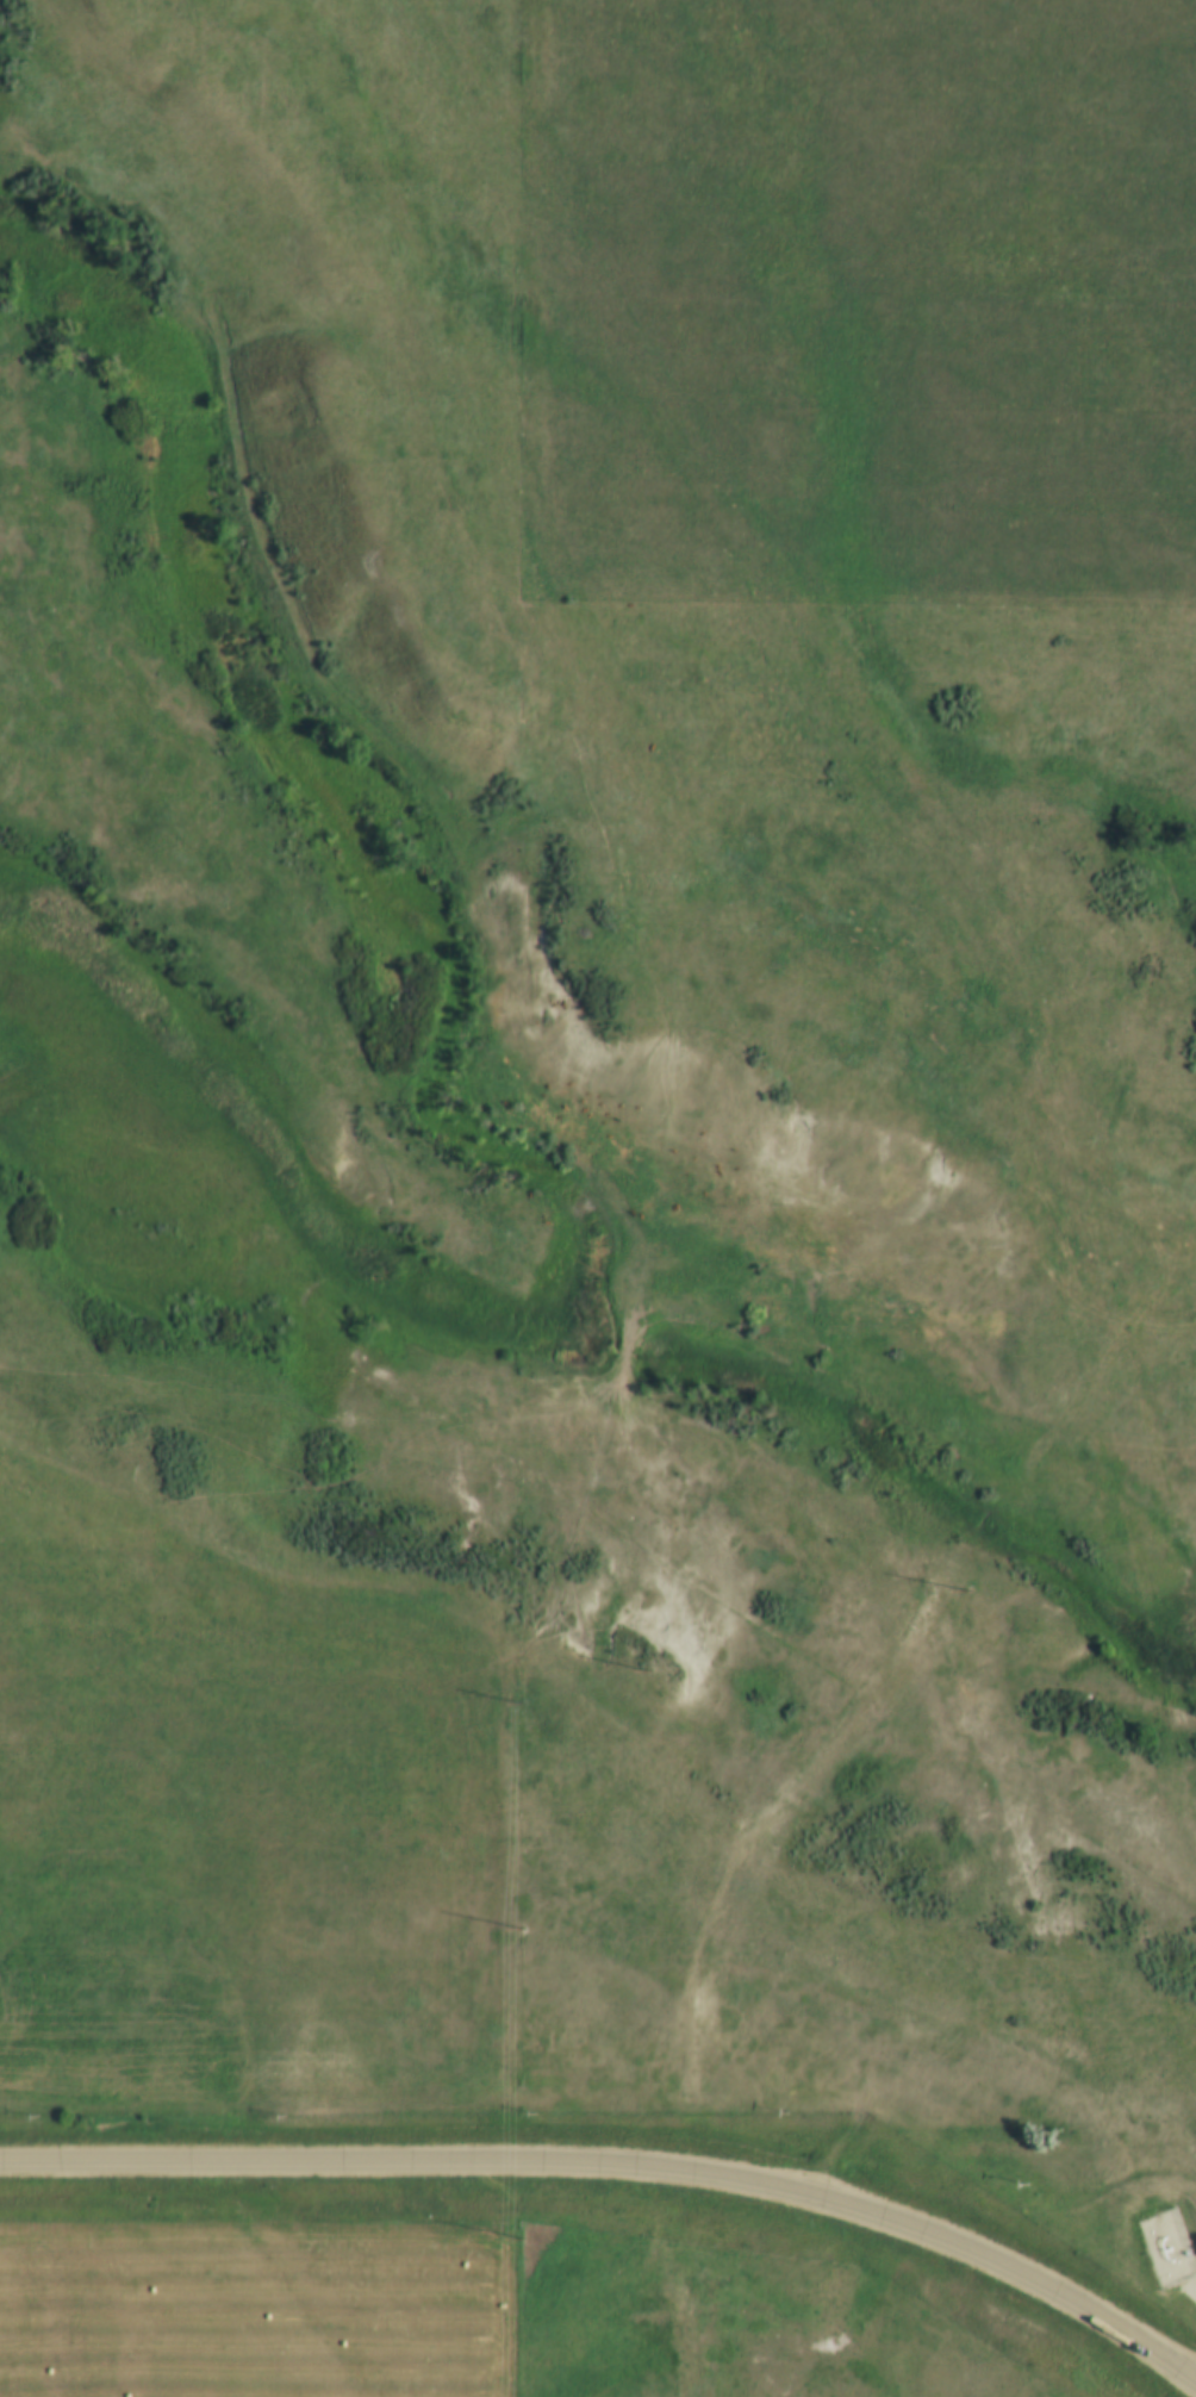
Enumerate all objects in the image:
road: (622, 2167)

